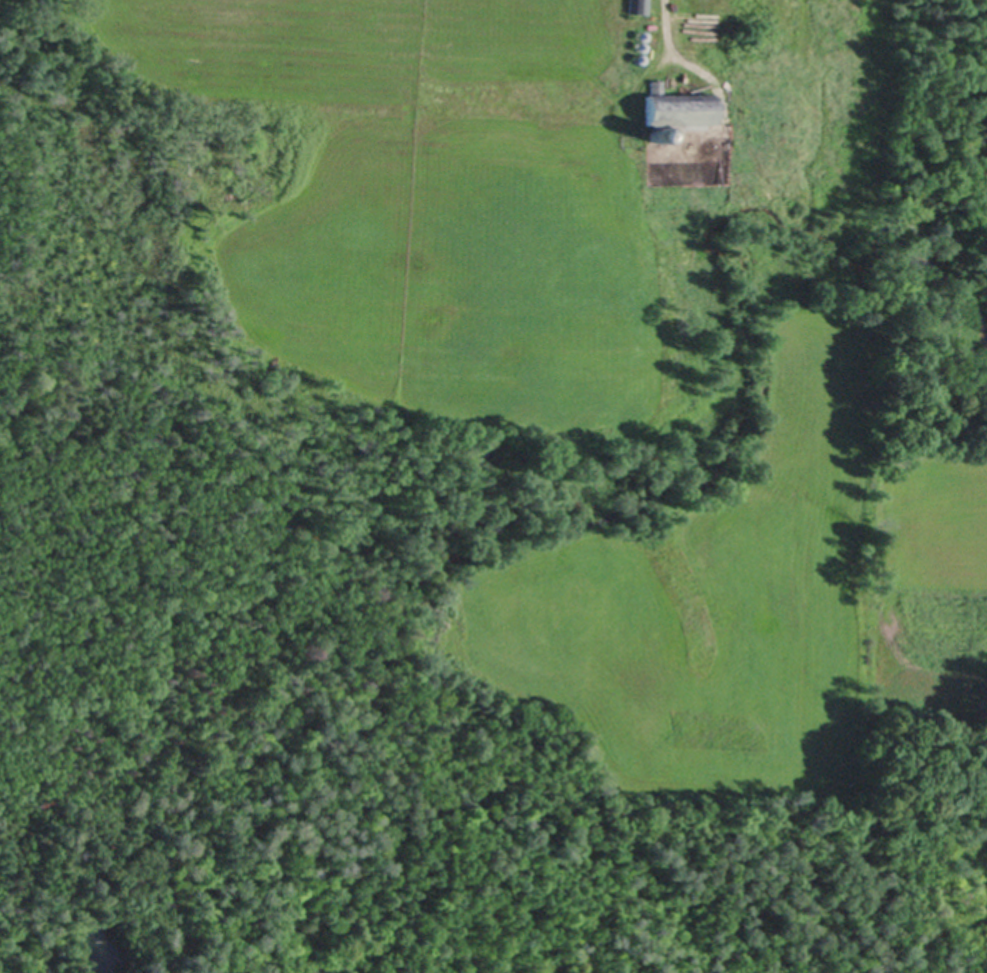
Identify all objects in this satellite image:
building: (637, 6)
building: (640, 34)
building: (638, 45)
building: (637, 57)
building: (676, 109)

